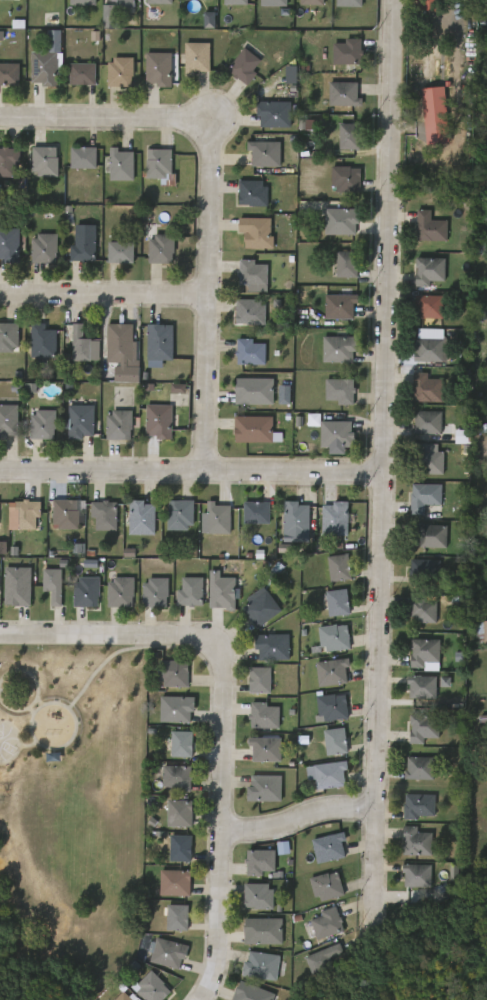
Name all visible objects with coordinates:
building: (125, 0)
building: (5, 1)
building: (35, 1)
building: (82, 1)
building: (112, 2)
building: (162, 2)
building: (188, 2)
building: (235, 2)
building: (314, 2)
building: (276, 3)
building: (352, 3)
building: (100, 21)
building: (200, 25)
building: (350, 51)
building: (199, 58)
building: (188, 63)
building: (244, 66)
building: (44, 68)
building: (159, 68)
building: (120, 71)
building: (9, 74)
building: (82, 74)
building: (282, 79)
building: (344, 94)
building: (274, 113)
road: (209, 120)
building: (349, 136)
building: (339, 141)
building: (265, 153)
building: (85, 157)
building: (8, 161)
building: (46, 161)
building: (74, 163)
building: (122, 165)
building: (35, 166)
building: (162, 166)
building: (149, 169)
building: (348, 178)
building: (337, 184)
building: (252, 193)
road: (210, 196)
building: (341, 218)
building: (427, 225)
building: (256, 232)
building: (9, 244)
building: (85, 244)
building: (161, 248)
building: (45, 249)
building: (74, 249)
building: (120, 252)
building: (346, 264)
building: (337, 269)
building: (429, 270)
building: (252, 273)
road: (103, 295)
building: (342, 305)
building: (430, 306)
building: (330, 311)
building: (419, 311)
building: (250, 312)
building: (9, 337)
building: (161, 341)
building: (44, 342)
building: (121, 342)
building: (82, 345)
building: (433, 345)
building: (151, 347)
building: (33, 348)
building: (339, 349)
building: (250, 352)
building: (129, 373)
building: (427, 388)
building: (254, 391)
building: (340, 391)
building: (168, 393)
building: (8, 420)
building: (82, 420)
building: (160, 421)
building: (428, 423)
building: (44, 424)
building: (121, 425)
building: (149, 426)
building: (253, 429)
building: (34, 430)
building: (110, 430)
building: (336, 436)
building: (431, 462)
road: (384, 464)
road: (191, 470)
building: (424, 497)
building: (259, 512)
building: (28, 514)
building: (68, 514)
building: (104, 515)
building: (180, 515)
building: (248, 517)
building: (141, 518)
building: (17, 519)
building: (56, 519)
building: (218, 519)
building: (335, 519)
building: (296, 522)
building: (432, 536)
building: (342, 567)
building: (424, 571)
building: (330, 572)
building: (0, 581)
building: (55, 585)
building: (19, 586)
building: (44, 589)
building: (86, 592)
building: (192, 592)
building: (222, 592)
building: (121, 593)
building: (155, 593)
building: (182, 596)
building: (337, 602)
building: (263, 609)
building: (423, 611)
building: (482, 632)
building: (337, 637)
building: (273, 646)
building: (426, 652)
building: (332, 672)
building: (177, 673)
building: (165, 678)
building: (260, 679)
building: (251, 684)
building: (422, 688)
building: (332, 706)
building: (176, 708)
building: (264, 714)
road: (223, 716)
building: (254, 720)
building: (423, 729)
building: (336, 741)
building: (181, 743)
building: (326, 745)
building: (173, 748)
building: (266, 748)
building: (420, 768)
building: (330, 774)
building: (179, 778)
building: (167, 781)
building: (264, 788)
building: (419, 805)
building: (179, 813)
road: (298, 818)
building: (417, 841)
building: (180, 847)
building: (329, 847)
building: (172, 852)
building: (262, 862)
building: (417, 874)
building: (408, 880)
building: (175, 882)
building: (329, 886)
building: (259, 896)
building: (177, 916)
building: (168, 921)
building: (328, 923)
building: (265, 930)
building: (169, 953)
building: (325, 958)
building: (261, 966)
building: (151, 987)
building: (122, 992)
building: (253, 992)
building: (113, 998)

